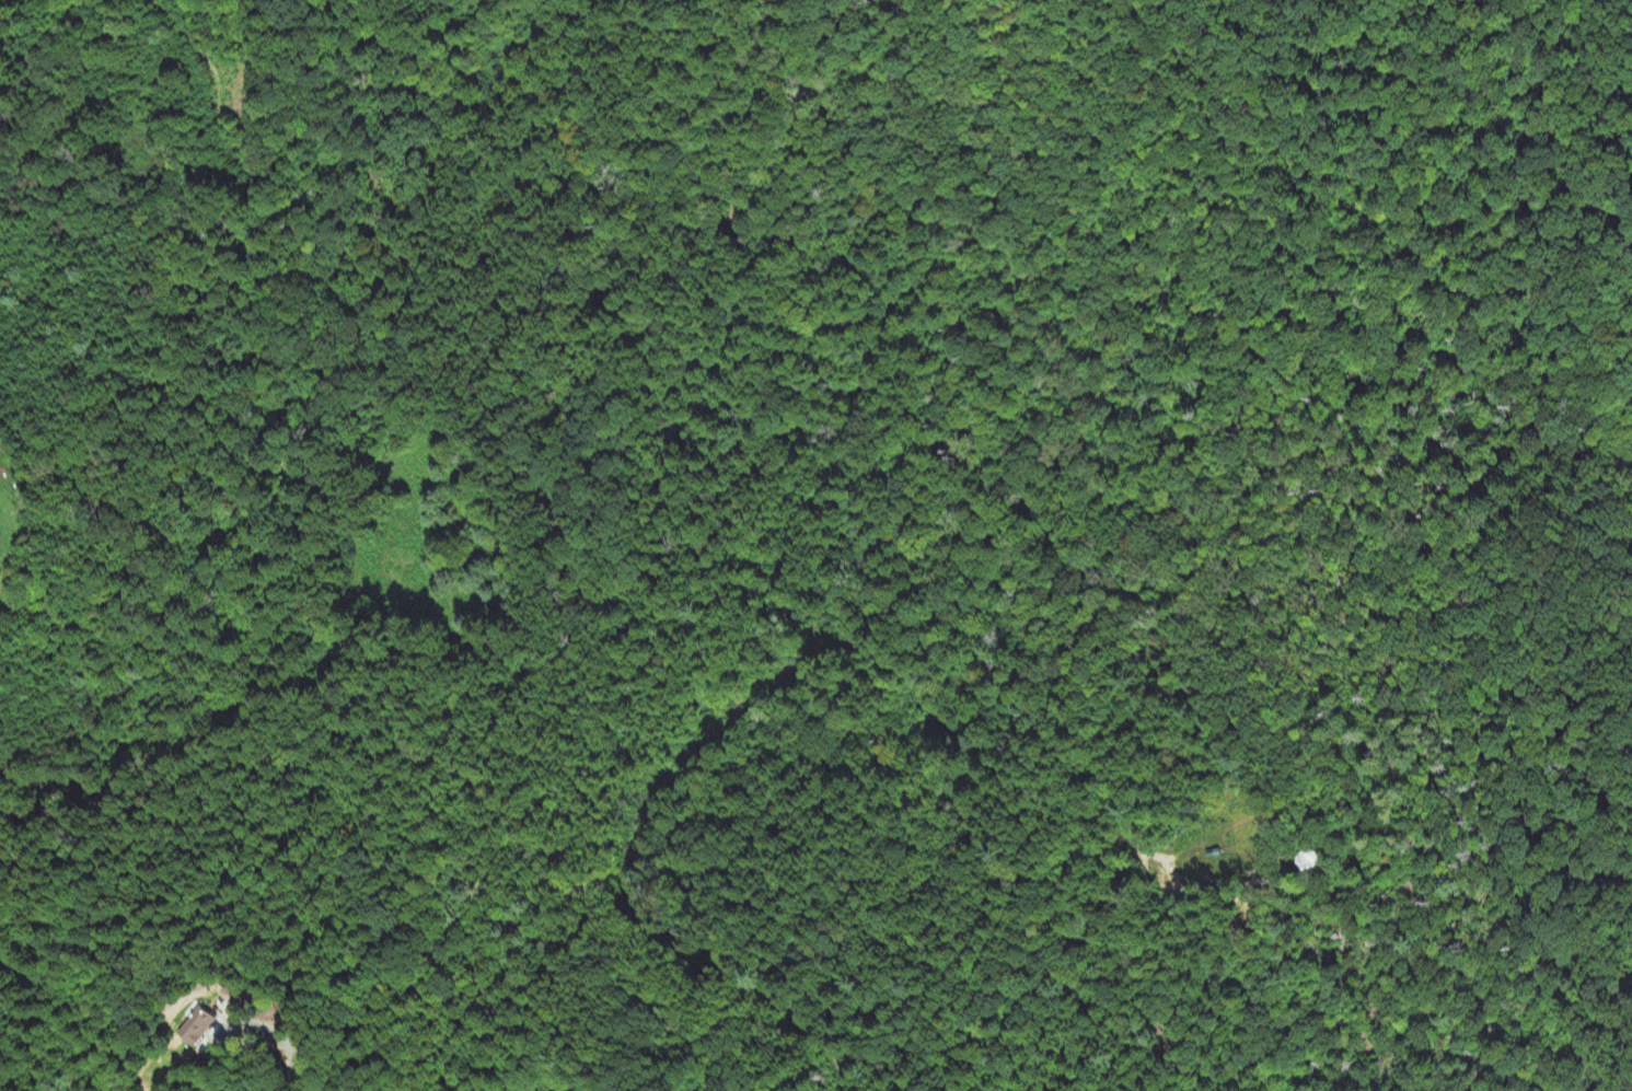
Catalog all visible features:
building: (200, 1028)

